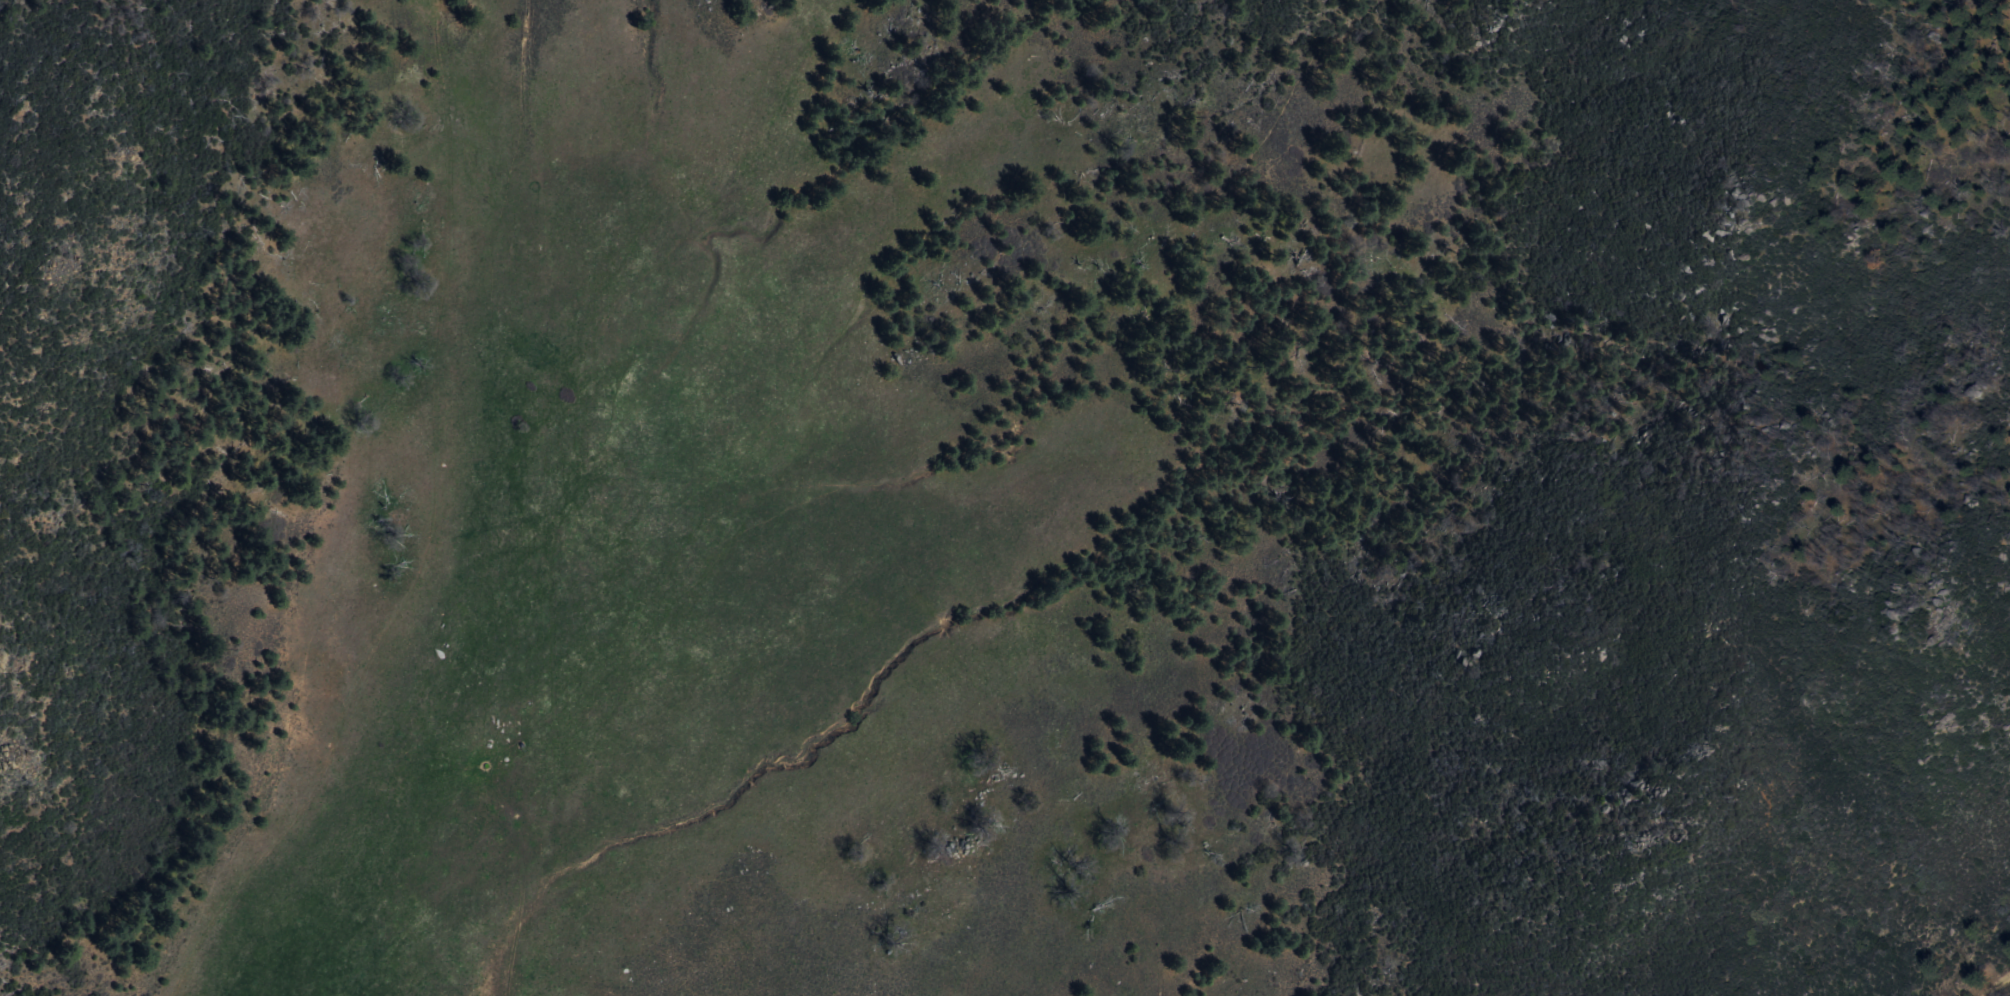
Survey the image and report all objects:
road: (1993, 982)

